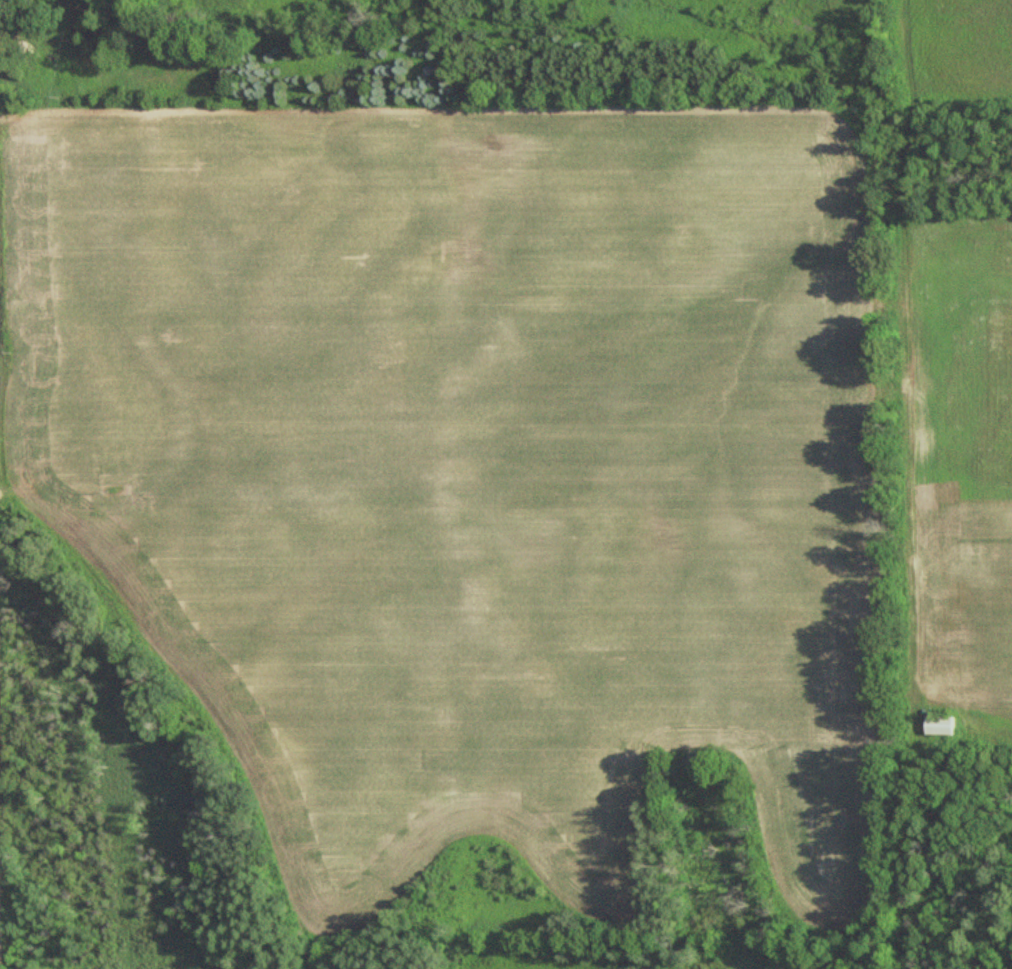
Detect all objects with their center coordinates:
building: (938, 726)

